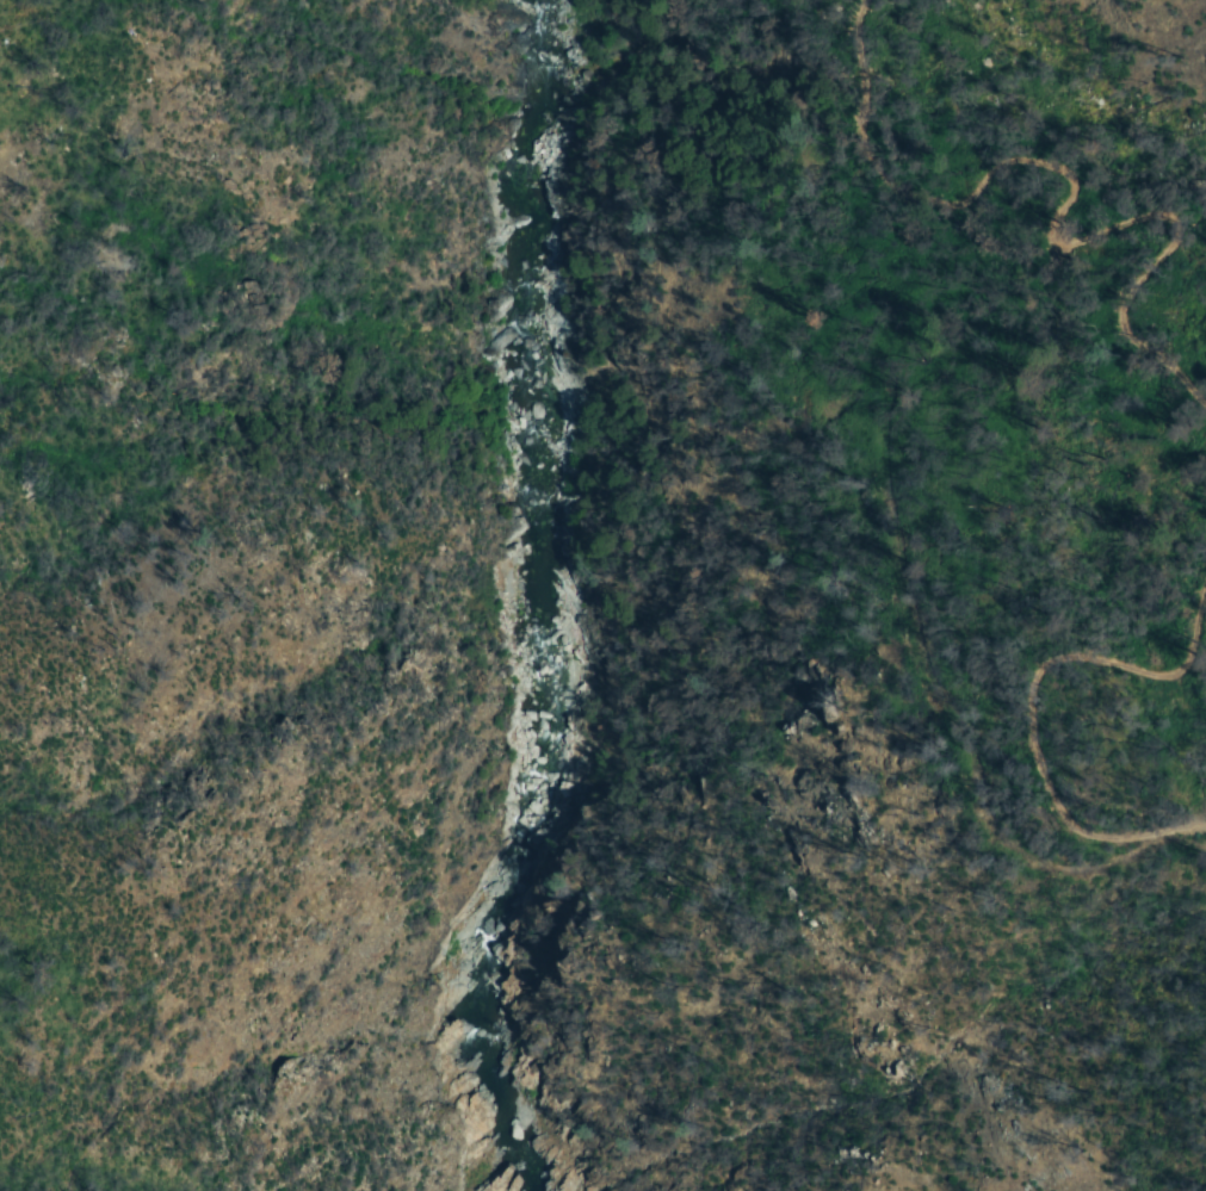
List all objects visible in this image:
road: (1196, 449)
river: (545, 597)

